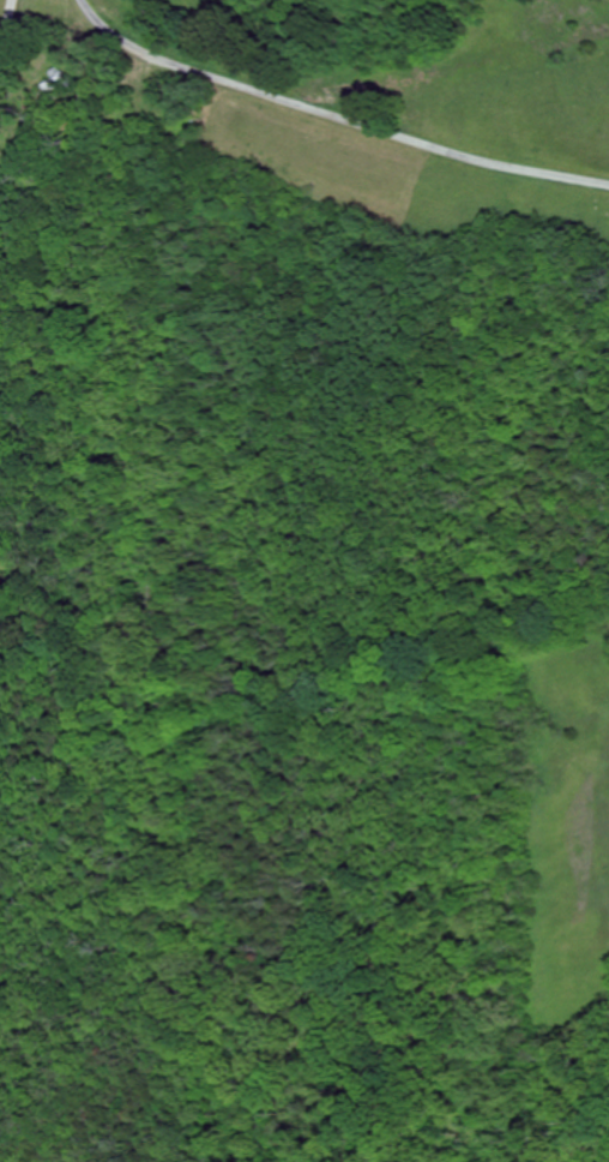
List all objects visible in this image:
road: (8, 38)
road: (339, 114)

